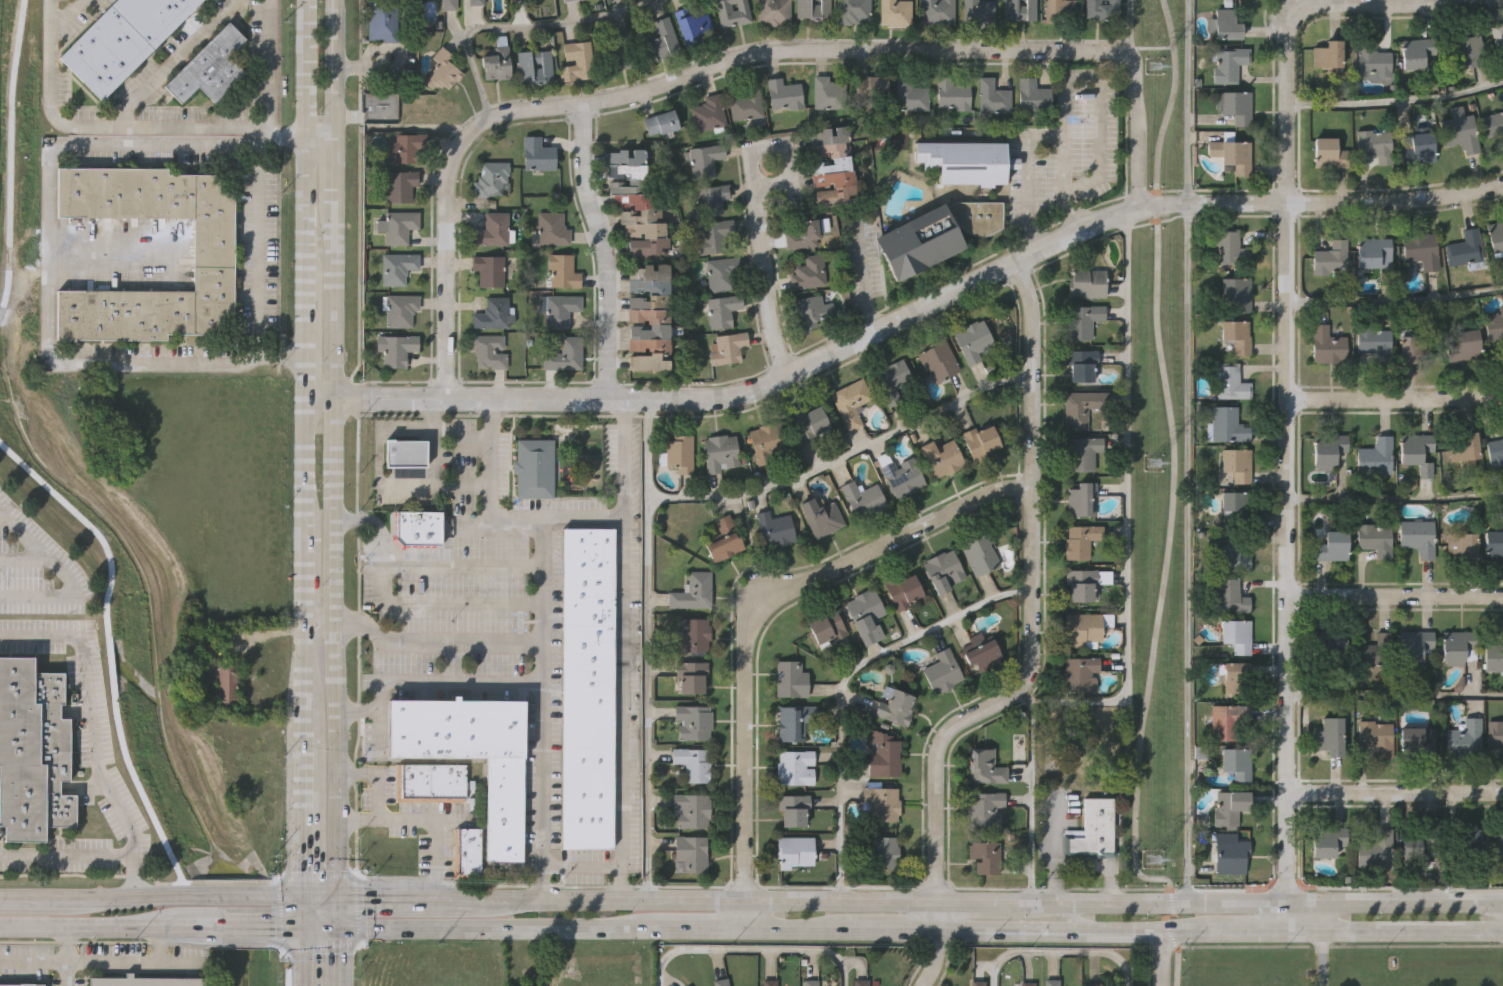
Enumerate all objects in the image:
building: (567, 0)
building: (475, 2)
building: (449, 4)
building: (812, 8)
building: (1059, 9)
building: (1102, 9)
building: (1018, 10)
building: (773, 11)
building: (851, 11)
building: (938, 11)
building: (733, 12)
building: (895, 12)
building: (979, 12)
road: (64, 15)
building: (383, 19)
building: (1226, 23)
building: (691, 26)
road: (520, 28)
road: (1131, 31)
road: (1285, 32)
building: (1498, 38)
building: (123, 39)
building: (660, 40)
building: (1466, 49)
building: (1417, 50)
building: (619, 51)
building: (1328, 53)
building: (497, 58)
building: (1372, 59)
building: (577, 60)
road: (732, 60)
building: (1228, 62)
road: (170, 63)
building: (524, 64)
power tower: (1157, 64)
building: (211, 66)
building: (443, 69)
building: (872, 84)
building: (829, 92)
building: (910, 93)
building: (953, 93)
building: (784, 94)
building: (1033, 94)
building: (993, 95)
building: (746, 102)
building: (1238, 104)
road: (1395, 104)
building: (708, 112)
building: (661, 121)
building: (1493, 122)
road: (162, 126)
road: (268, 131)
building: (1461, 133)
road: (1034, 136)
road: (316, 137)
building: (1375, 143)
building: (1420, 147)
building: (404, 149)
building: (1330, 152)
building: (537, 155)
building: (1236, 156)
building: (704, 158)
building: (965, 160)
building: (832, 163)
building: (490, 178)
building: (400, 186)
building: (711, 200)
building: (637, 203)
road: (758, 216)
building: (398, 226)
building: (552, 229)
building: (493, 230)
building: (803, 234)
building: (714, 235)
building: (1495, 236)
building: (935, 237)
building: (1229, 247)
building: (1465, 247)
road: (601, 250)
building: (1421, 250)
road: (258, 251)
building: (1374, 251)
building: (214, 252)
road: (46, 255)
road: (109, 256)
building: (1330, 258)
building: (397, 267)
building: (489, 270)
building: (563, 270)
building: (808, 273)
building: (721, 275)
building: (1085, 283)
building: (1236, 293)
road: (1394, 302)
building: (400, 308)
building: (560, 308)
road: (328, 309)
building: (811, 311)
building: (722, 312)
building: (493, 313)
road: (907, 314)
road: (303, 320)
building: (648, 320)
building: (1082, 321)
building: (1494, 327)
building: (1236, 334)
building: (973, 339)
building: (1372, 342)
building: (1325, 345)
building: (1412, 345)
building: (396, 348)
building: (727, 348)
building: (1465, 348)
building: (488, 352)
building: (564, 356)
building: (938, 357)
building: (1080, 365)
building: (893, 380)
building: (1229, 381)
road: (1395, 398)
building: (851, 401)
building: (1081, 406)
building: (811, 422)
building: (1225, 424)
building: (1502, 431)
road: (442, 432)
building: (980, 441)
building: (766, 442)
building: (1329, 448)
building: (1465, 449)
road: (1188, 450)
building: (1495, 450)
building: (1417, 452)
building: (405, 453)
building: (677, 453)
building: (721, 453)
building: (1081, 454)
building: (1376, 456)
building: (942, 457)
road: (844, 458)
power tower: (1157, 463)
building: (1235, 465)
building: (534, 468)
building: (903, 478)
road: (487, 484)
road: (433, 485)
building: (865, 497)
road: (1394, 499)
building: (1081, 500)
building: (1232, 501)
road: (1126, 506)
road: (1172, 507)
building: (819, 515)
building: (418, 526)
building: (774, 528)
building: (1417, 536)
building: (723, 539)
building: (1373, 539)
building: (1079, 541)
building: (1493, 544)
building: (1462, 545)
building: (1331, 546)
building: (1229, 551)
building: (977, 554)
road: (421, 565)
road: (1286, 566)
building: (940, 570)
road: (64, 576)
building: (1080, 585)
building: (904, 590)
building: (691, 591)
building: (1229, 594)
road: (1394, 594)
road: (541, 607)
road: (765, 609)
building: (866, 614)
road: (317, 617)
building: (825, 627)
building: (1085, 628)
road: (316, 630)
building: (1235, 635)
building: (692, 636)
road: (432, 642)
building: (1329, 643)
building: (1416, 643)
building: (1459, 646)
road: (648, 647)
road: (1031, 647)
building: (1376, 650)
road: (303, 651)
building: (982, 651)
building: (206, 654)
building: (1494, 656)
building: (942, 670)
building: (1078, 672)
building: (690, 674)
building: (1233, 675)
road: (302, 677)
building: (789, 679)
road: (428, 681)
building: (225, 684)
road: (846, 687)
building: (585, 689)
road: (329, 690)
road: (1394, 695)
road: (302, 700)
building: (894, 705)
road: (621, 707)
road: (353, 710)
building: (691, 720)
building: (1225, 720)
building: (793, 721)
road: (92, 730)
building: (1496, 731)
building: (1330, 734)
building: (1377, 734)
building: (1465, 738)
building: (1416, 741)
building: (32, 751)
building: (471, 753)
building: (883, 755)
building: (1234, 763)
building: (691, 764)
building: (985, 765)
building: (794, 767)
building: (429, 782)
road: (1394, 792)
road: (1033, 794)
road: (301, 802)
building: (880, 802)
building: (1228, 805)
building: (983, 808)
building: (690, 809)
building: (792, 809)
road: (354, 817)
road: (397, 817)
road: (329, 827)
building: (1092, 829)
building: (1325, 840)
building: (1414, 840)
building: (1467, 846)
building: (1499, 846)
building: (883, 848)
building: (1374, 849)
building: (466, 852)
building: (689, 852)
building: (794, 852)
building: (985, 854)
road: (66, 855)
building: (1230, 856)
power tower: (1155, 858)
traffic signals: (330, 895)
road: (315, 896)
road: (536, 896)
road: (141, 897)
road: (234, 897)
road: (287, 897)
traffic signals: (300, 897)
road: (44, 898)
road: (887, 900)
road: (1046, 901)
road: (1275, 901)
road: (1497, 902)
road: (1497, 910)
road: (300, 912)
road: (742, 914)
road: (1073, 916)
road: (1325, 916)
traffic signals: (330, 926)
road: (315, 927)
road: (496, 927)
road: (101, 928)
road: (239, 928)
road: (287, 928)
traffic signals: (300, 928)
road: (702, 929)
road: (915, 930)
road: (1270, 932)
road: (1414, 932)
road: (1151, 934)
road: (329, 940)
road: (752, 949)
road: (1059, 952)
road: (67, 956)
road: (299, 957)
road: (1326, 959)
road: (1160, 960)
road: (33, 961)
road: (125, 961)
building: (147, 980)
building: (719, 982)
building: (768, 982)
building: (809, 982)
building: (1051, 982)
building: (860, 983)
building: (977, 983)
building: (1026, 984)
building: (1093, 984)
building: (18, 985)

